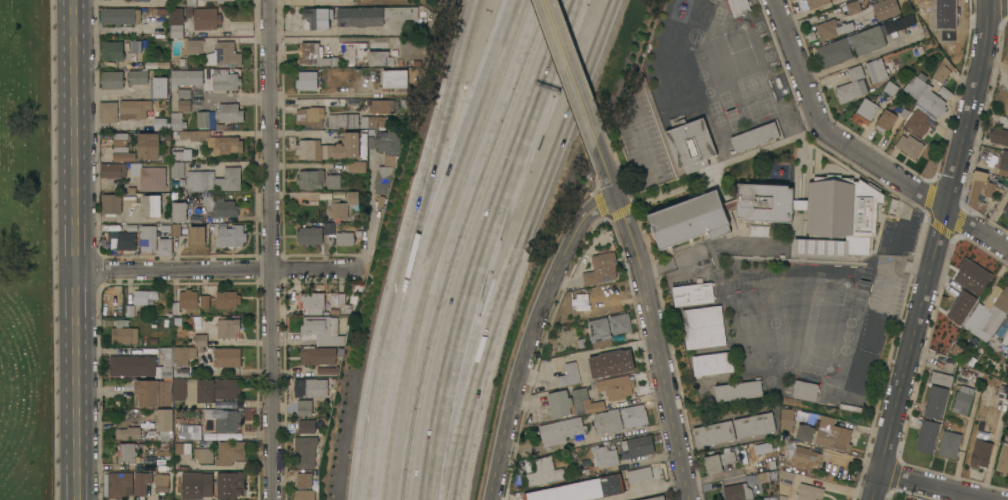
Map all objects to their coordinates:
building: (142, 0)
building: (218, 0)
building: (220, 1)
building: (195, 2)
building: (817, 3)
building: (694, 5)
building: (739, 7)
building: (854, 7)
building: (886, 8)
building: (120, 15)
building: (177, 15)
building: (373, 15)
building: (940, 16)
building: (404, 17)
building: (206, 18)
building: (317, 18)
building: (899, 23)
building: (832, 28)
building: (177, 30)
road: (335, 30)
building: (669, 37)
building: (868, 39)
building: (1007, 45)
building: (195, 46)
building: (112, 50)
building: (833, 52)
building: (224, 55)
building: (314, 55)
road: (862, 57)
building: (380, 58)
road: (799, 63)
building: (877, 70)
building: (943, 70)
road: (572, 72)
building: (138, 77)
building: (675, 77)
building: (186, 78)
building: (337, 78)
building: (395, 78)
building: (225, 79)
building: (112, 80)
building: (307, 80)
building: (851, 85)
building: (159, 87)
building: (891, 88)
road: (109, 92)
road: (333, 94)
building: (682, 94)
building: (925, 95)
building: (184, 105)
building: (383, 106)
building: (134, 108)
building: (109, 111)
building: (229, 112)
building: (865, 112)
building: (310, 116)
building: (203, 119)
building: (177, 121)
building: (344, 121)
building: (373, 121)
building: (885, 121)
building: (918, 122)
building: (160, 124)
road: (300, 131)
road: (440, 134)
building: (754, 136)
building: (998, 136)
building: (121, 139)
building: (215, 141)
building: (384, 141)
building: (691, 144)
building: (910, 145)
building: (148, 146)
building: (329, 148)
building: (123, 154)
building: (182, 154)
road: (648, 160)
building: (1002, 163)
building: (357, 166)
building: (177, 168)
building: (114, 170)
building: (385, 173)
building: (150, 176)
building: (1007, 177)
building: (229, 179)
building: (311, 179)
building: (200, 180)
building: (333, 181)
road: (915, 186)
building: (980, 190)
building: (354, 198)
building: (144, 203)
building: (788, 203)
building: (111, 204)
building: (220, 206)
building: (338, 209)
building: (1005, 209)
building: (179, 211)
road: (370, 214)
road: (902, 216)
building: (690, 219)
building: (875, 224)
building: (328, 228)
building: (759, 230)
building: (310, 235)
building: (197, 236)
building: (231, 236)
building: (148, 238)
building: (344, 238)
building: (127, 241)
road: (433, 243)
building: (165, 246)
road: (481, 246)
road: (514, 247)
road: (76, 249)
road: (272, 249)
road: (937, 250)
road: (701, 251)
building: (821, 251)
park: (26, 253)
building: (853, 254)
road: (895, 267)
building: (601, 269)
road: (217, 270)
building: (965, 288)
building: (693, 293)
building: (144, 297)
building: (188, 299)
building: (227, 299)
building: (593, 300)
building: (202, 301)
building: (313, 302)
building: (988, 313)
road: (653, 319)
building: (620, 323)
building: (228, 327)
building: (704, 327)
building: (1006, 327)
building: (323, 329)
building: (873, 330)
building: (600, 332)
building: (125, 333)
road: (531, 335)
building: (196, 341)
building: (956, 349)
building: (184, 354)
building: (318, 355)
building: (227, 357)
building: (610, 363)
building: (713, 363)
building: (141, 364)
building: (1007, 368)
building: (328, 370)
building: (861, 370)
building: (180, 372)
building: (567, 374)
building: (940, 379)
road: (378, 380)
building: (617, 386)
building: (311, 387)
building: (178, 388)
building: (216, 389)
building: (805, 390)
building: (738, 391)
building: (152, 393)
building: (1000, 394)
building: (962, 397)
building: (560, 402)
building: (935, 402)
building: (305, 407)
building: (634, 415)
building: (223, 418)
building: (786, 419)
building: (608, 421)
building: (162, 425)
building: (305, 425)
building: (754, 425)
building: (561, 430)
building: (186, 431)
building: (805, 432)
building: (128, 433)
building: (714, 433)
building: (833, 434)
building: (926, 436)
building: (948, 444)
building: (637, 446)
building: (761, 447)
building: (183, 448)
building: (305, 451)
building: (127, 452)
building: (230, 452)
building: (799, 452)
building: (979, 453)
building: (203, 454)
building: (605, 456)
building: (1003, 459)
building: (718, 462)
building: (544, 472)
building: (639, 474)
building: (304, 480)
building: (786, 481)
building: (162, 483)
building: (120, 484)
building: (141, 484)
building: (209, 485)
road: (937, 486)
building: (580, 489)
road: (641, 490)
building: (737, 491)
building: (809, 492)
building: (305, 495)
road: (373, 497)
building: (656, 498)
building: (906, 499)

